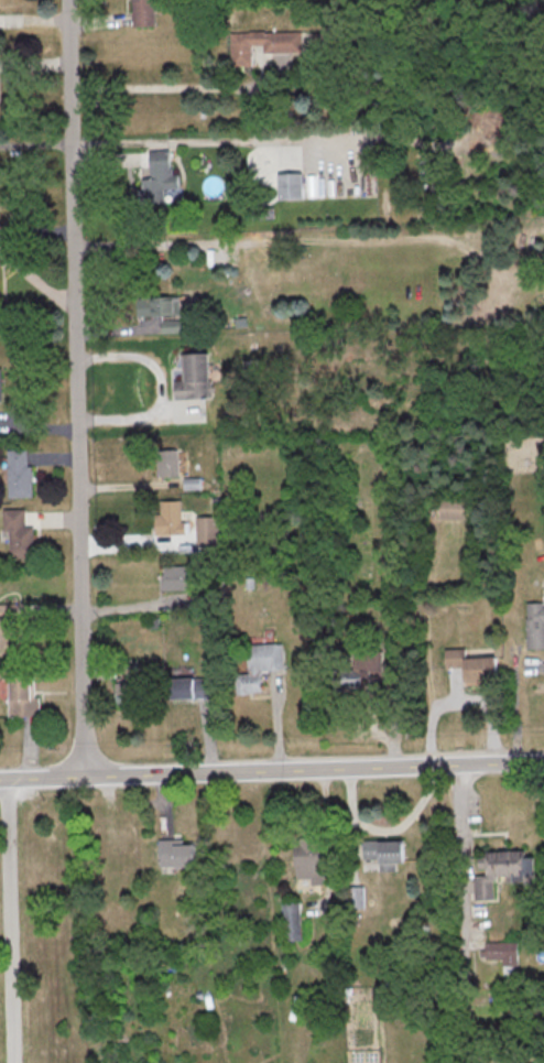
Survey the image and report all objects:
building: (144, 12)
building: (265, 44)
road: (159, 89)
road: (176, 143)
building: (160, 177)
building: (293, 185)
building: (168, 310)
building: (196, 377)
building: (0, 384)
road: (78, 388)
road: (161, 388)
building: (168, 462)
building: (20, 473)
building: (170, 516)
building: (207, 530)
building: (20, 531)
building: (178, 577)
building: (9, 626)
building: (535, 626)
building: (260, 666)
building: (475, 666)
building: (360, 668)
building: (193, 687)
building: (24, 695)
building: (132, 695)
road: (271, 769)
road: (327, 834)
building: (178, 853)
building: (385, 853)
building: (311, 858)
building: (503, 869)
road: (460, 912)
building: (294, 920)
road: (9, 922)
building: (501, 952)

